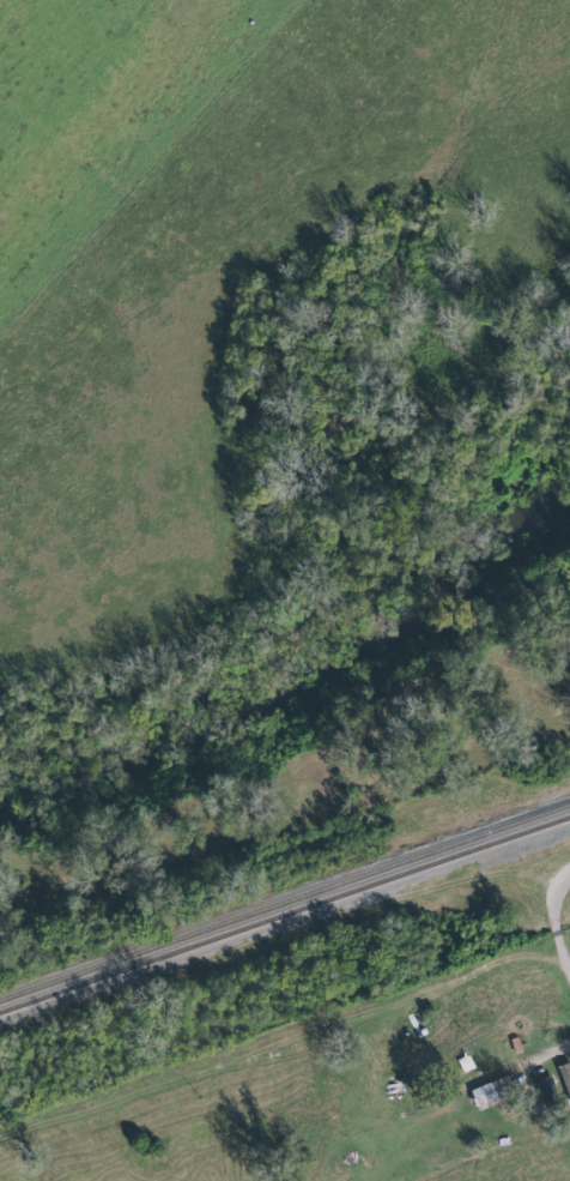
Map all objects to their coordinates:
railway: (285, 904)
railway: (285, 915)
road: (559, 918)

